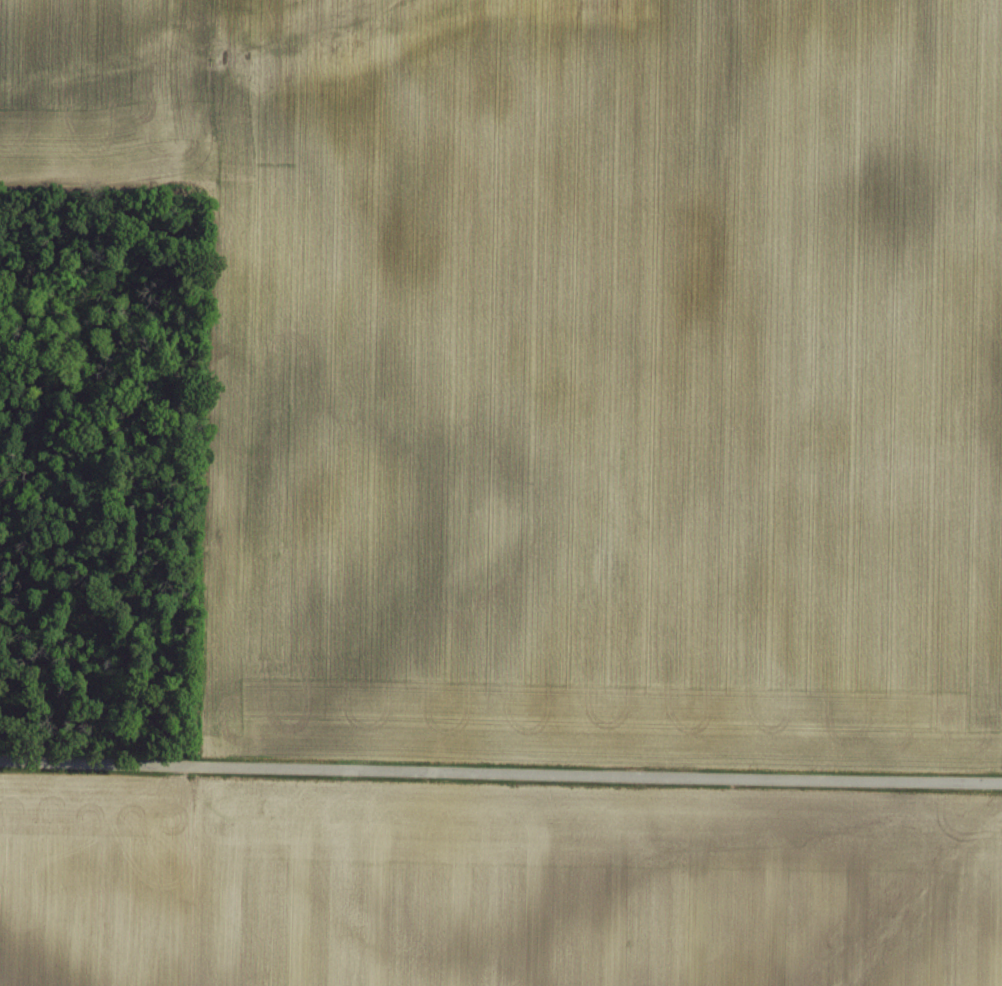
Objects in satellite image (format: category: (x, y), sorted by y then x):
road: (500, 774)

